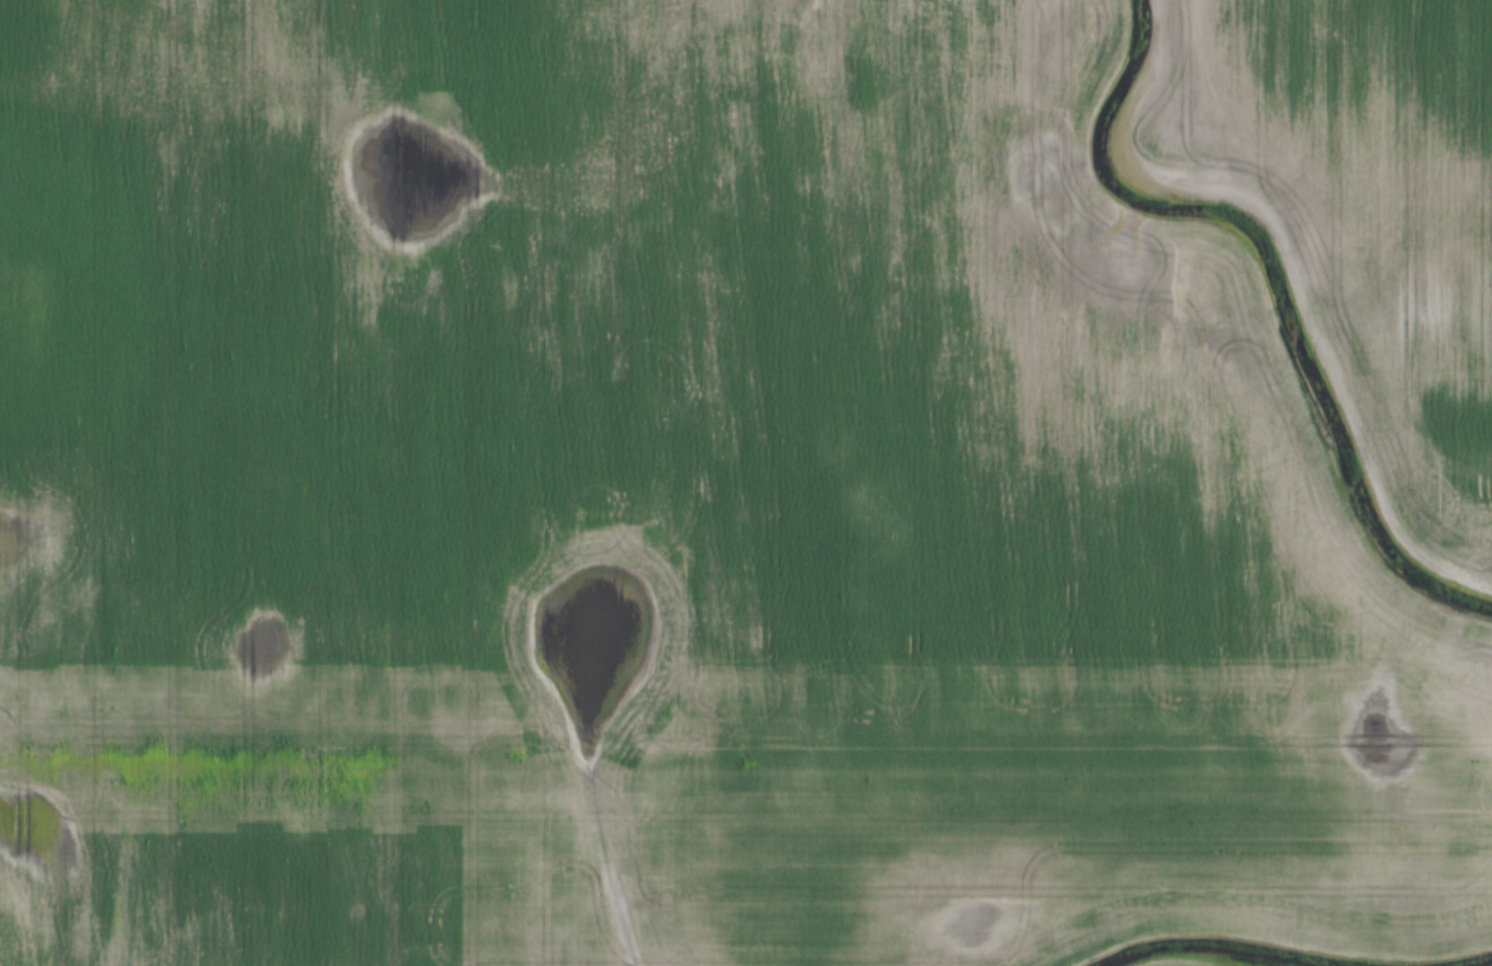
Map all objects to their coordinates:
river: (1279, 286)

